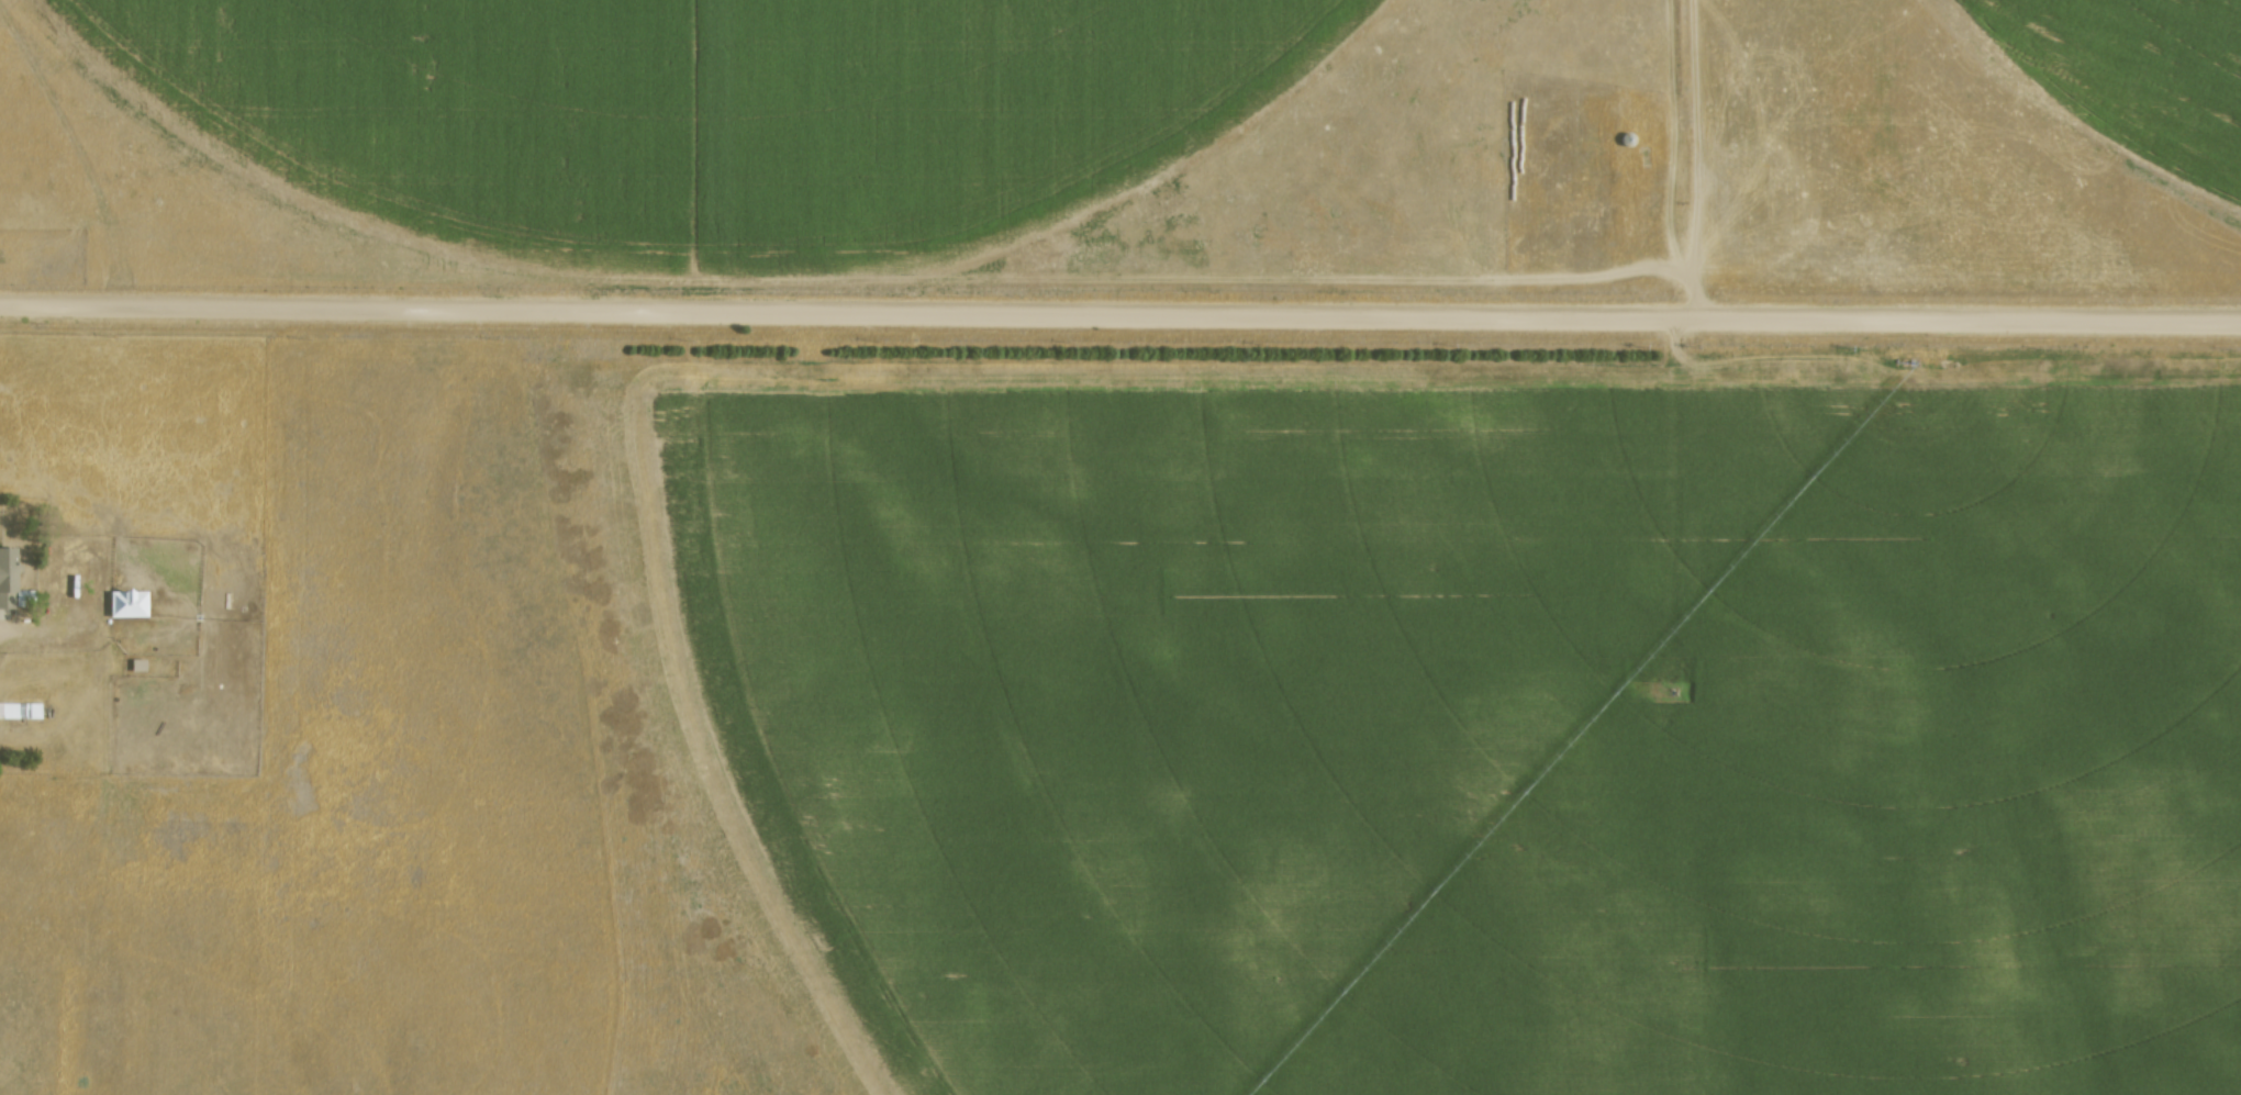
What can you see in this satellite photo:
crop: (2130, 78)
crop: (714, 112)
road: (1120, 311)
building: (8, 573)
building: (129, 602)
building: (137, 662)
building: (18, 709)
crop: (1479, 733)

